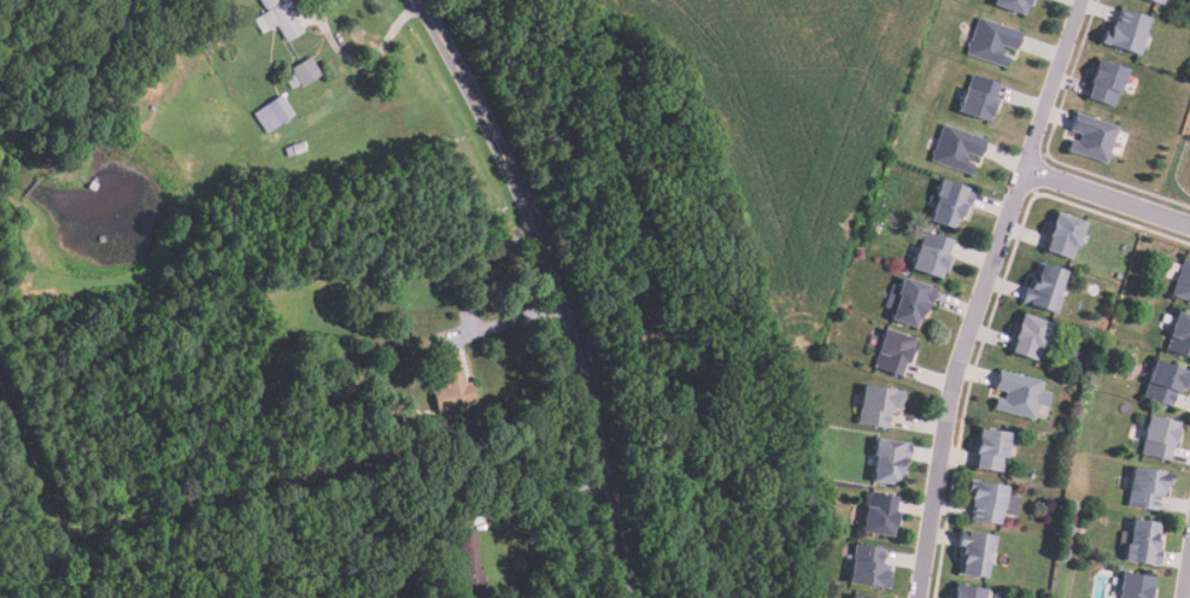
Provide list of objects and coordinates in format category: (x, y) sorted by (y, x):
building: (1153, 0)
building: (1160, 1)
building: (1015, 5)
building: (281, 18)
building: (1129, 31)
building: (995, 42)
road: (359, 64)
building: (301, 71)
building: (1109, 82)
building: (981, 98)
building: (272, 115)
building: (1092, 137)
building: (959, 149)
road: (1106, 198)
building: (954, 203)
building: (1066, 235)
building: (934, 254)
building: (1184, 282)
road: (562, 286)
building: (1047, 287)
road: (980, 294)
building: (910, 300)
road: (511, 322)
building: (1031, 335)
building: (1182, 335)
building: (399, 342)
building: (896, 352)
building: (1167, 382)
building: (452, 385)
building: (1021, 395)
building: (879, 405)
building: (403, 427)
building: (1162, 436)
building: (992, 448)
building: (892, 459)
building: (1149, 487)
road: (545, 498)
building: (992, 502)
building: (883, 515)
building: (1143, 544)
building: (977, 553)
building: (469, 563)
building: (872, 567)
road: (1186, 576)
building: (1139, 586)
building: (969, 592)
building: (861, 597)

